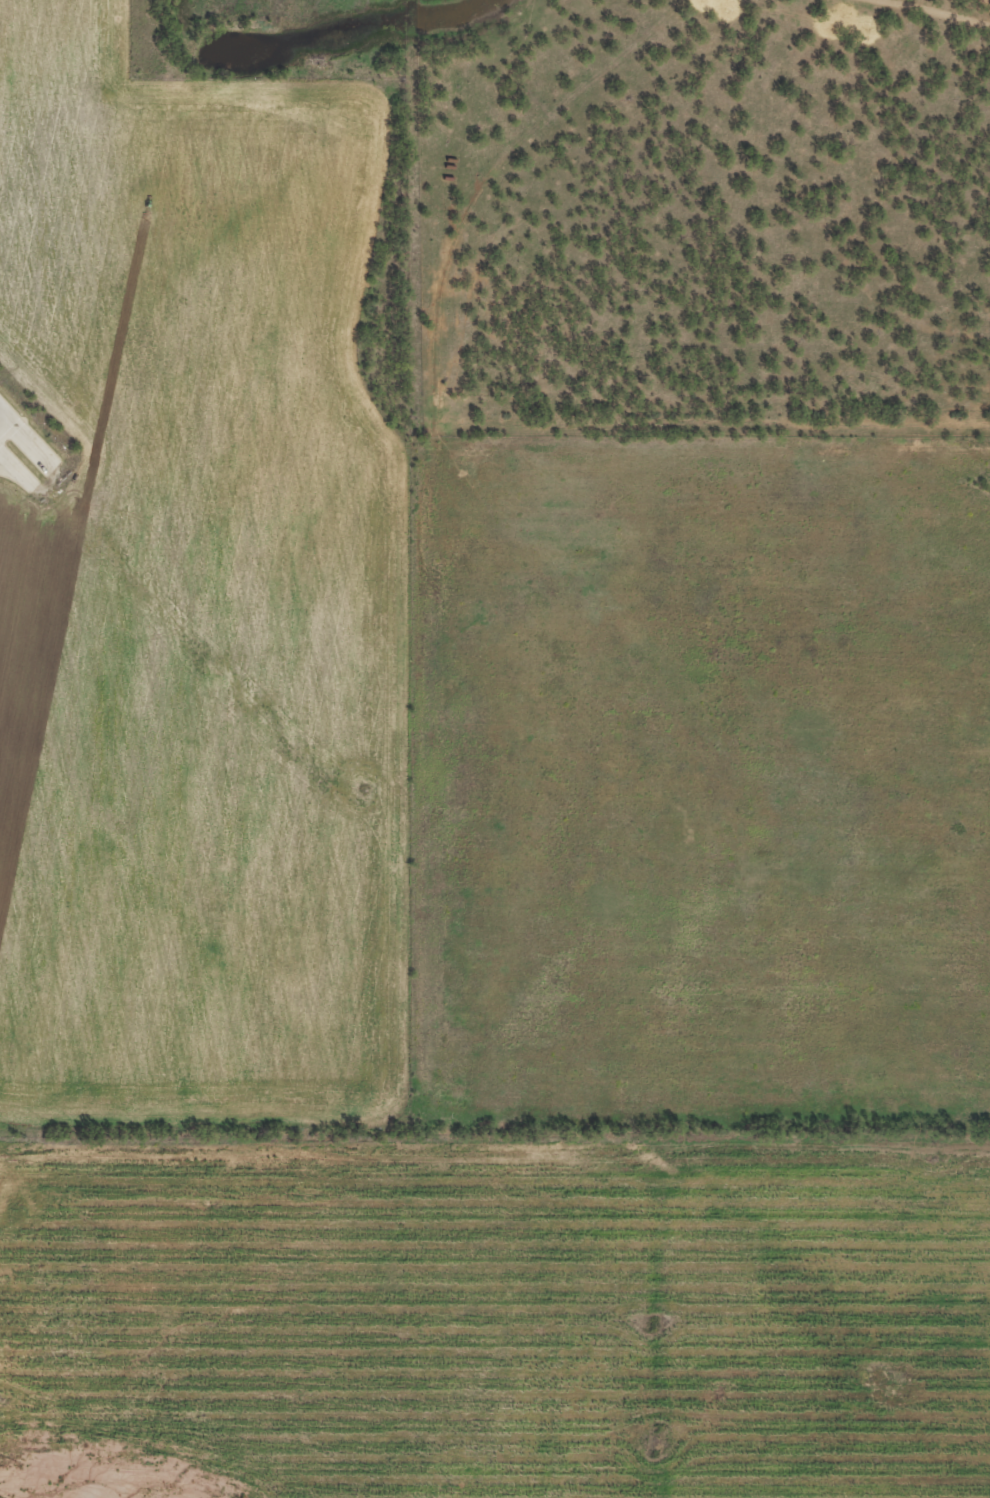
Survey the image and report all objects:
road: (926, 12)
road: (2, 409)
road: (2, 414)
road: (38, 446)
road: (15, 474)
road: (25, 474)

